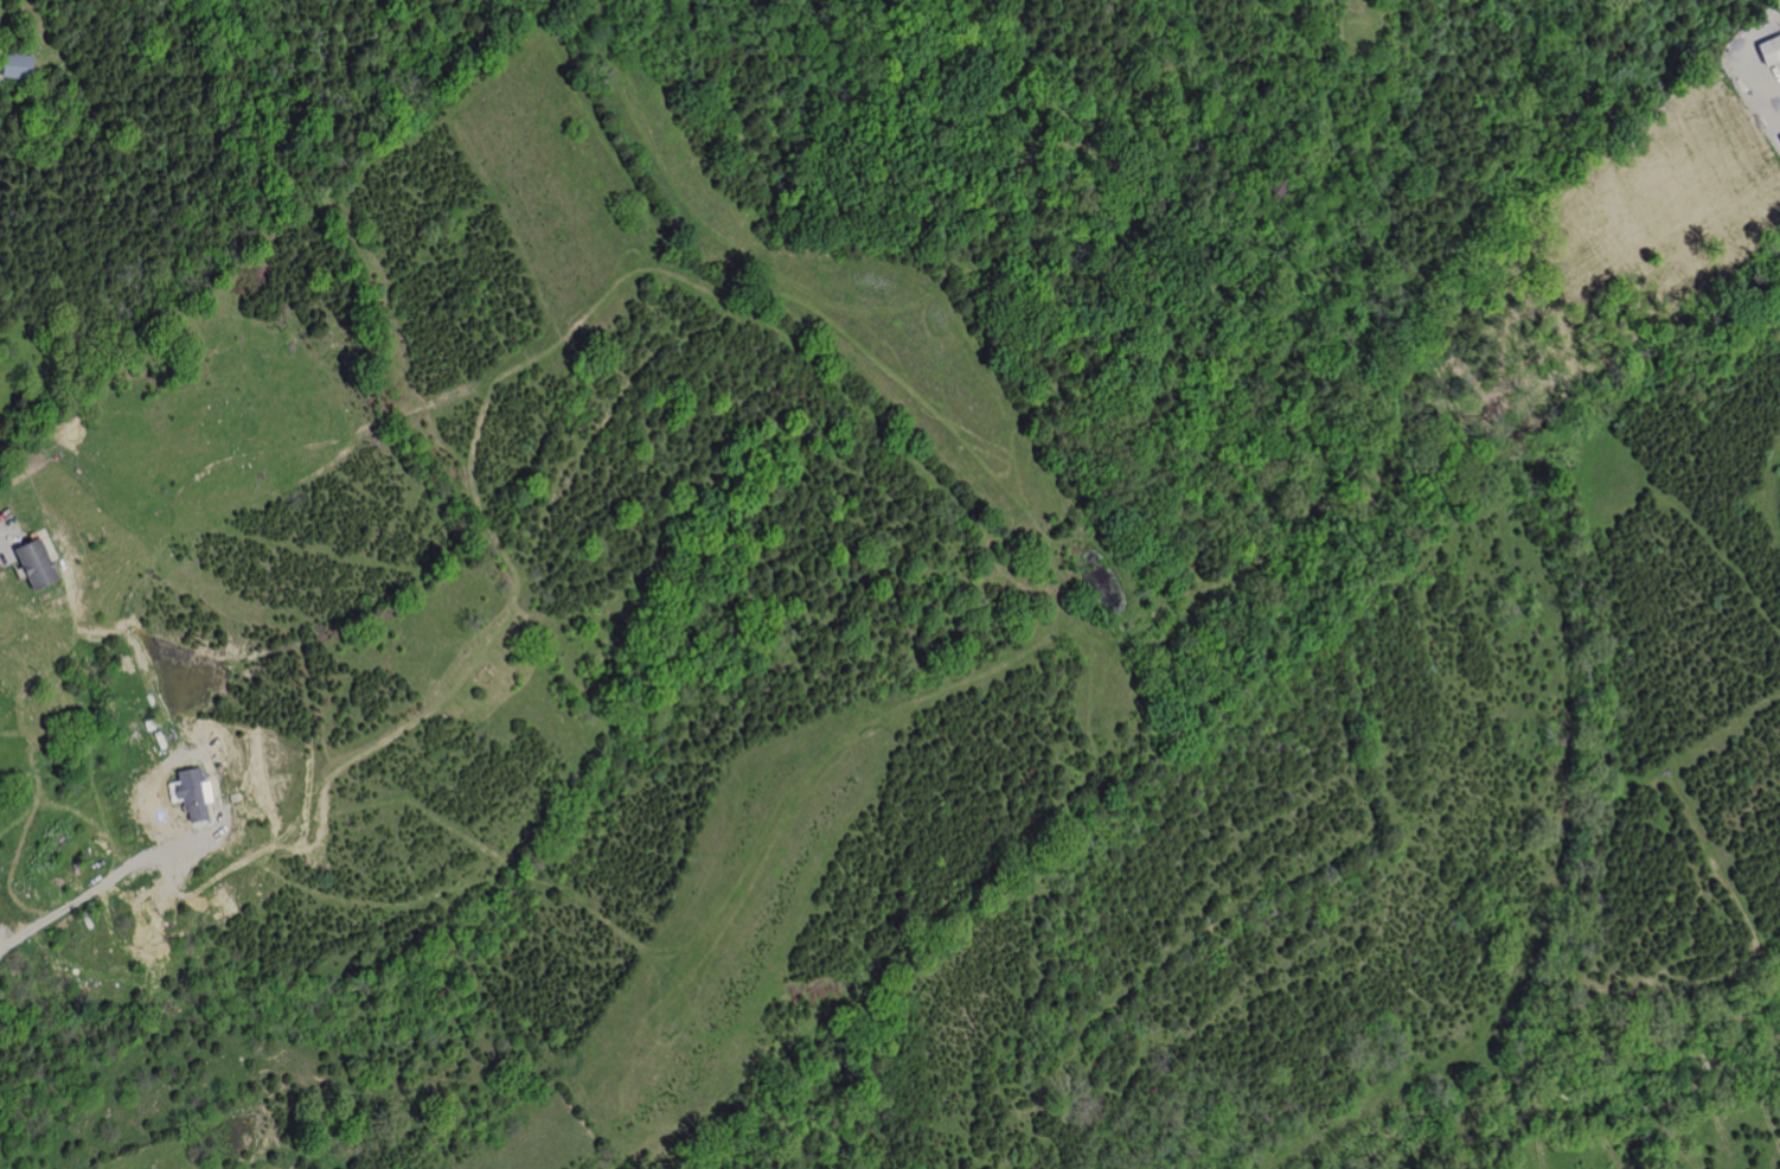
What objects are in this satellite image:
building: (1772, 49)
road: (1741, 55)
building: (19, 64)
building: (1778, 139)
building: (1278, 187)
road: (6, 549)
building: (38, 563)
building: (151, 723)
building: (193, 793)
road: (139, 864)

